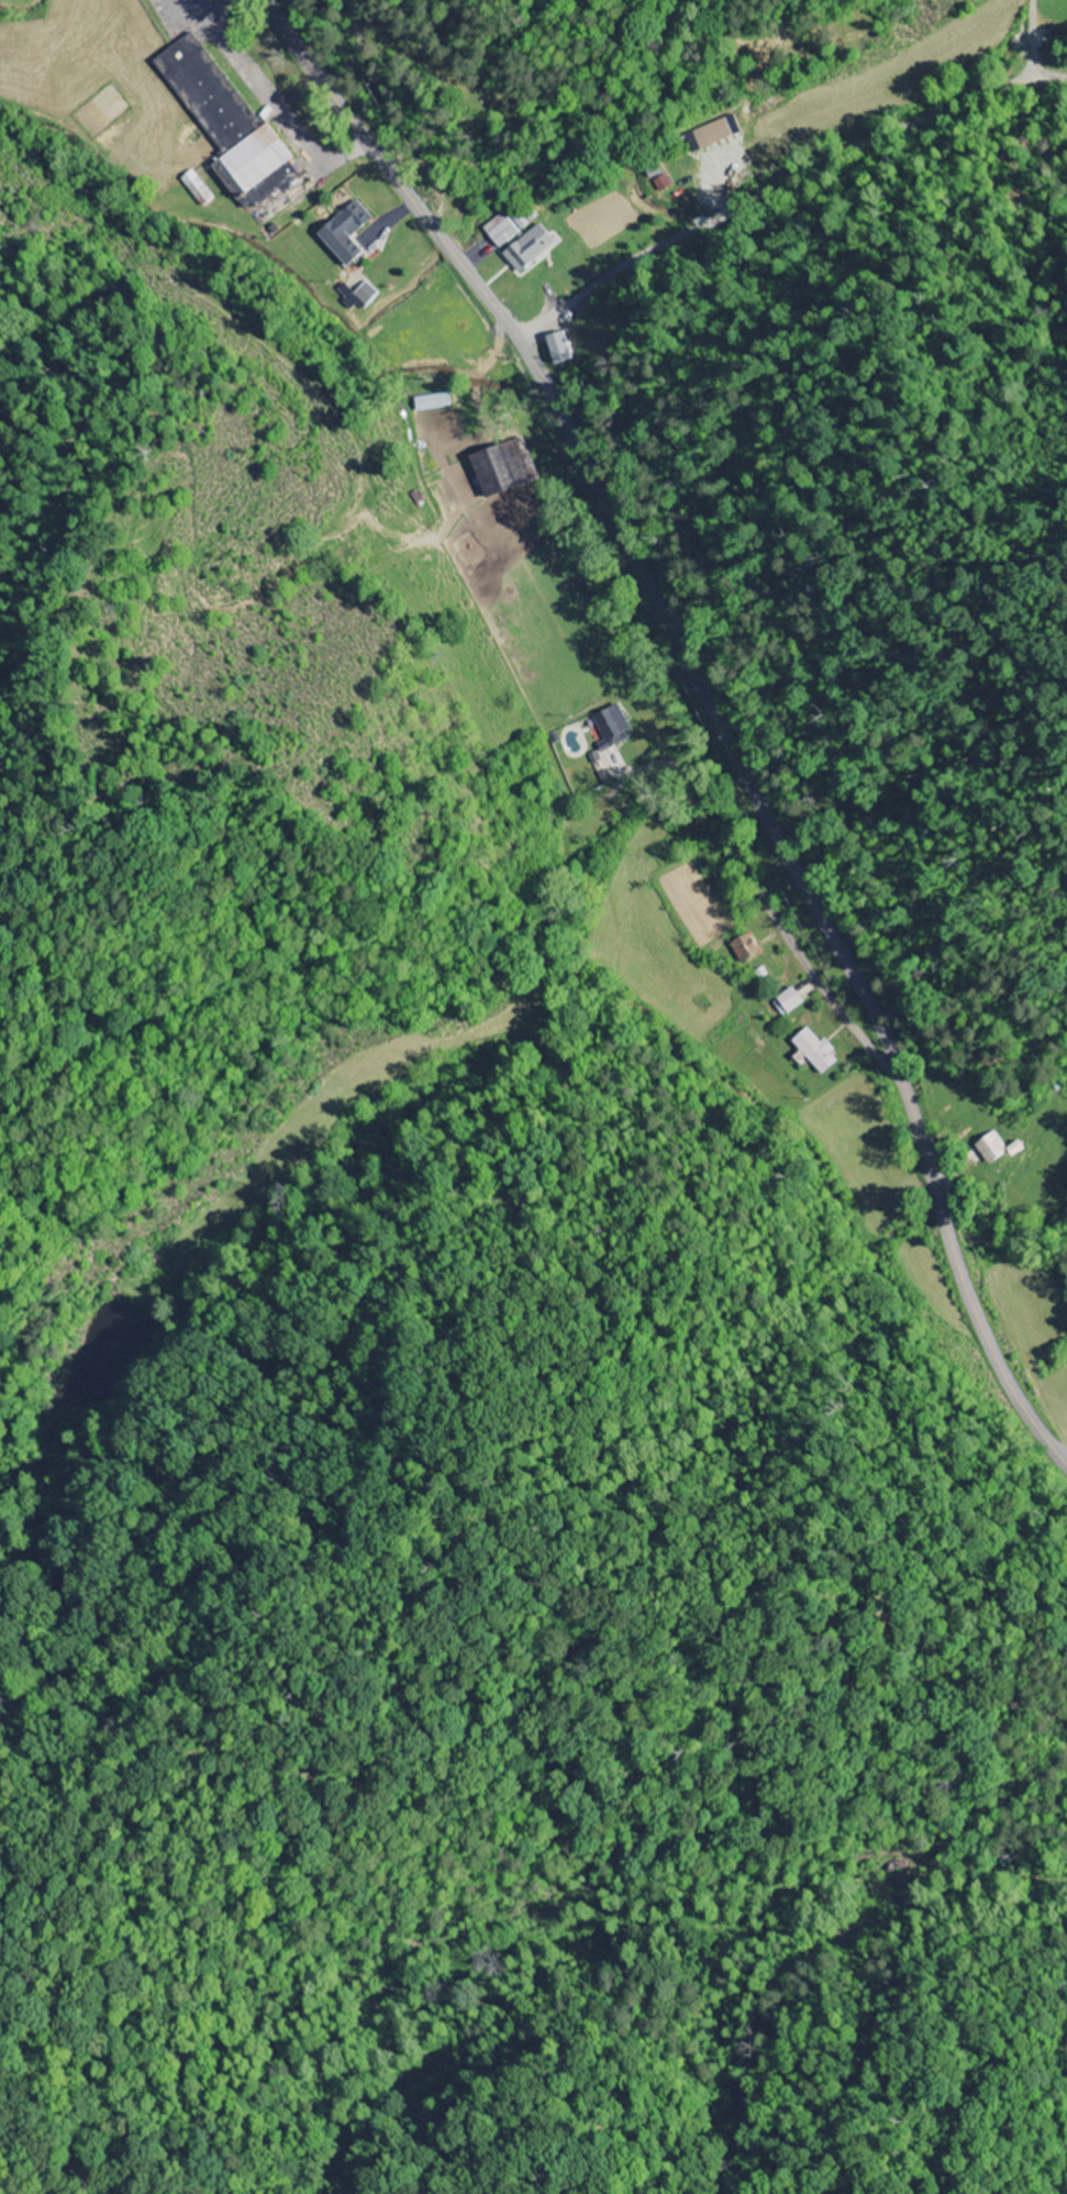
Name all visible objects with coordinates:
road: (1000, 46)
road: (382, 88)
building: (231, 118)
building: (712, 133)
road: (788, 174)
building: (351, 233)
building: (522, 242)
building: (362, 296)
building: (559, 348)
road: (243, 362)
building: (511, 469)
road: (711, 707)
building: (611, 728)
building: (744, 948)
building: (785, 1002)
building: (812, 1051)
building: (994, 1149)
road: (873, 1532)
road: (824, 1886)

